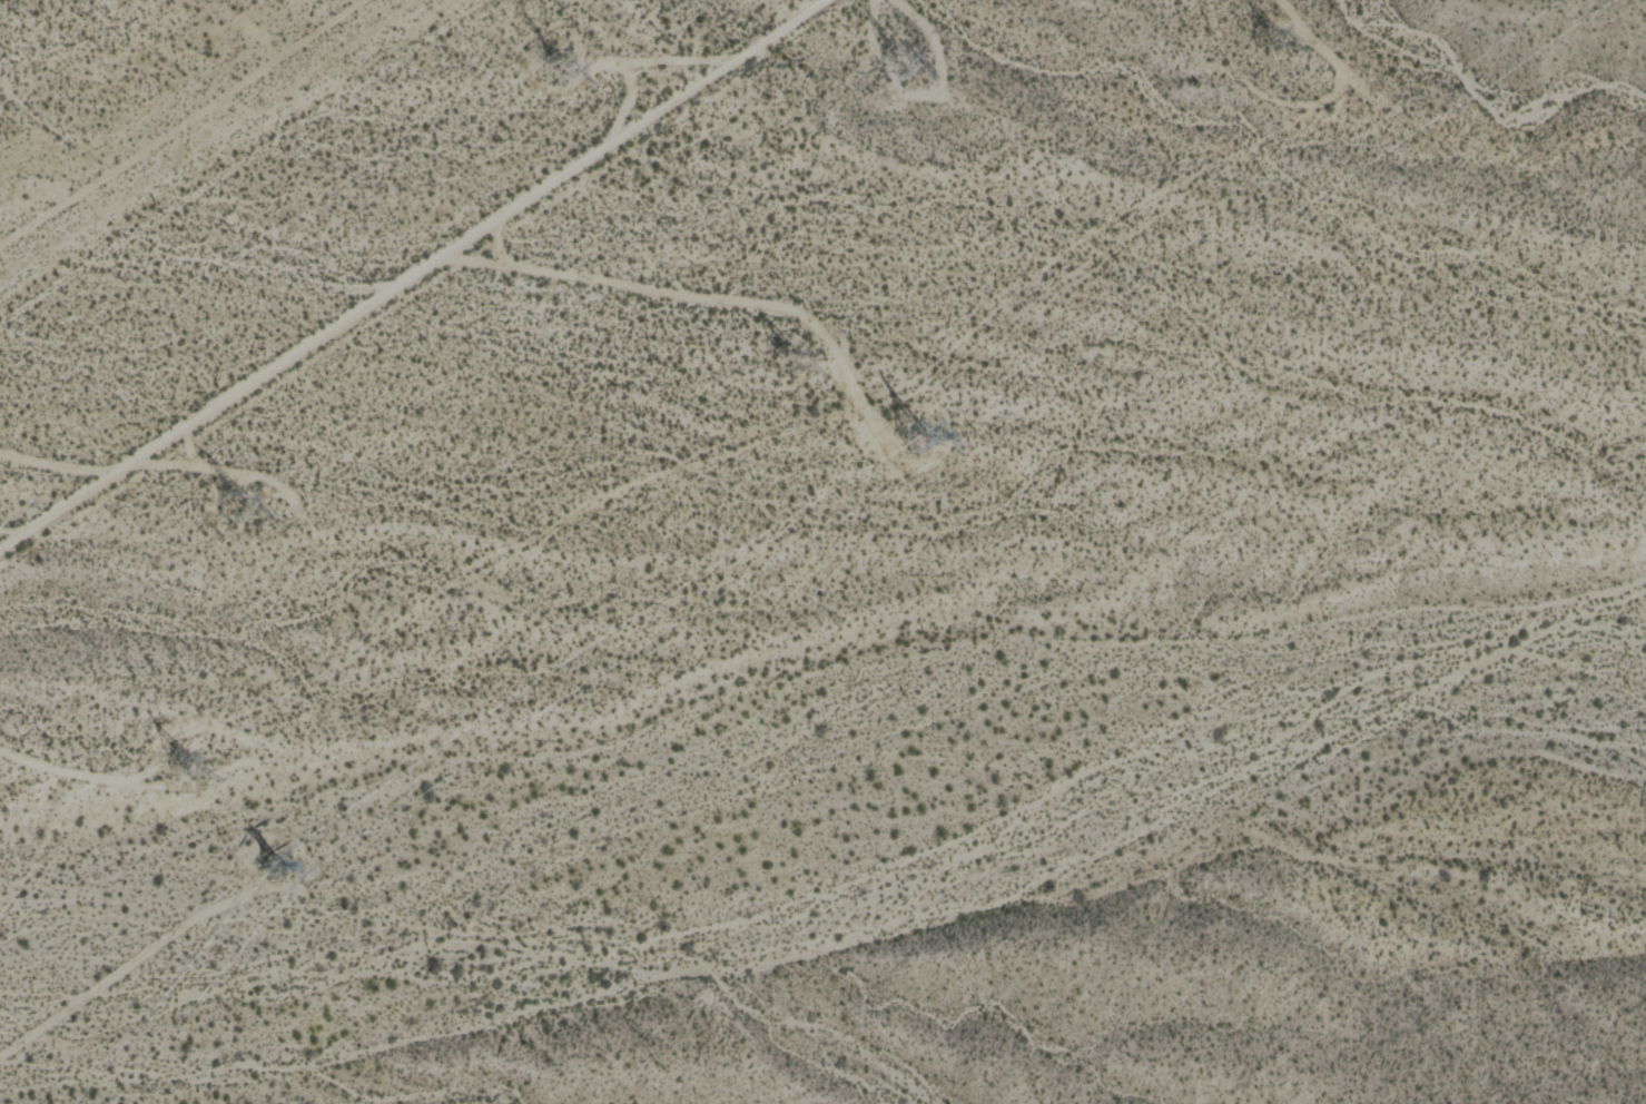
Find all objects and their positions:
power tower: (1252, 27)
power tower: (535, 59)
power tower: (871, 70)
road: (411, 275)
power tower: (773, 351)
power tower: (904, 441)
power tower: (224, 501)
power tower: (178, 760)
power tower: (259, 862)

